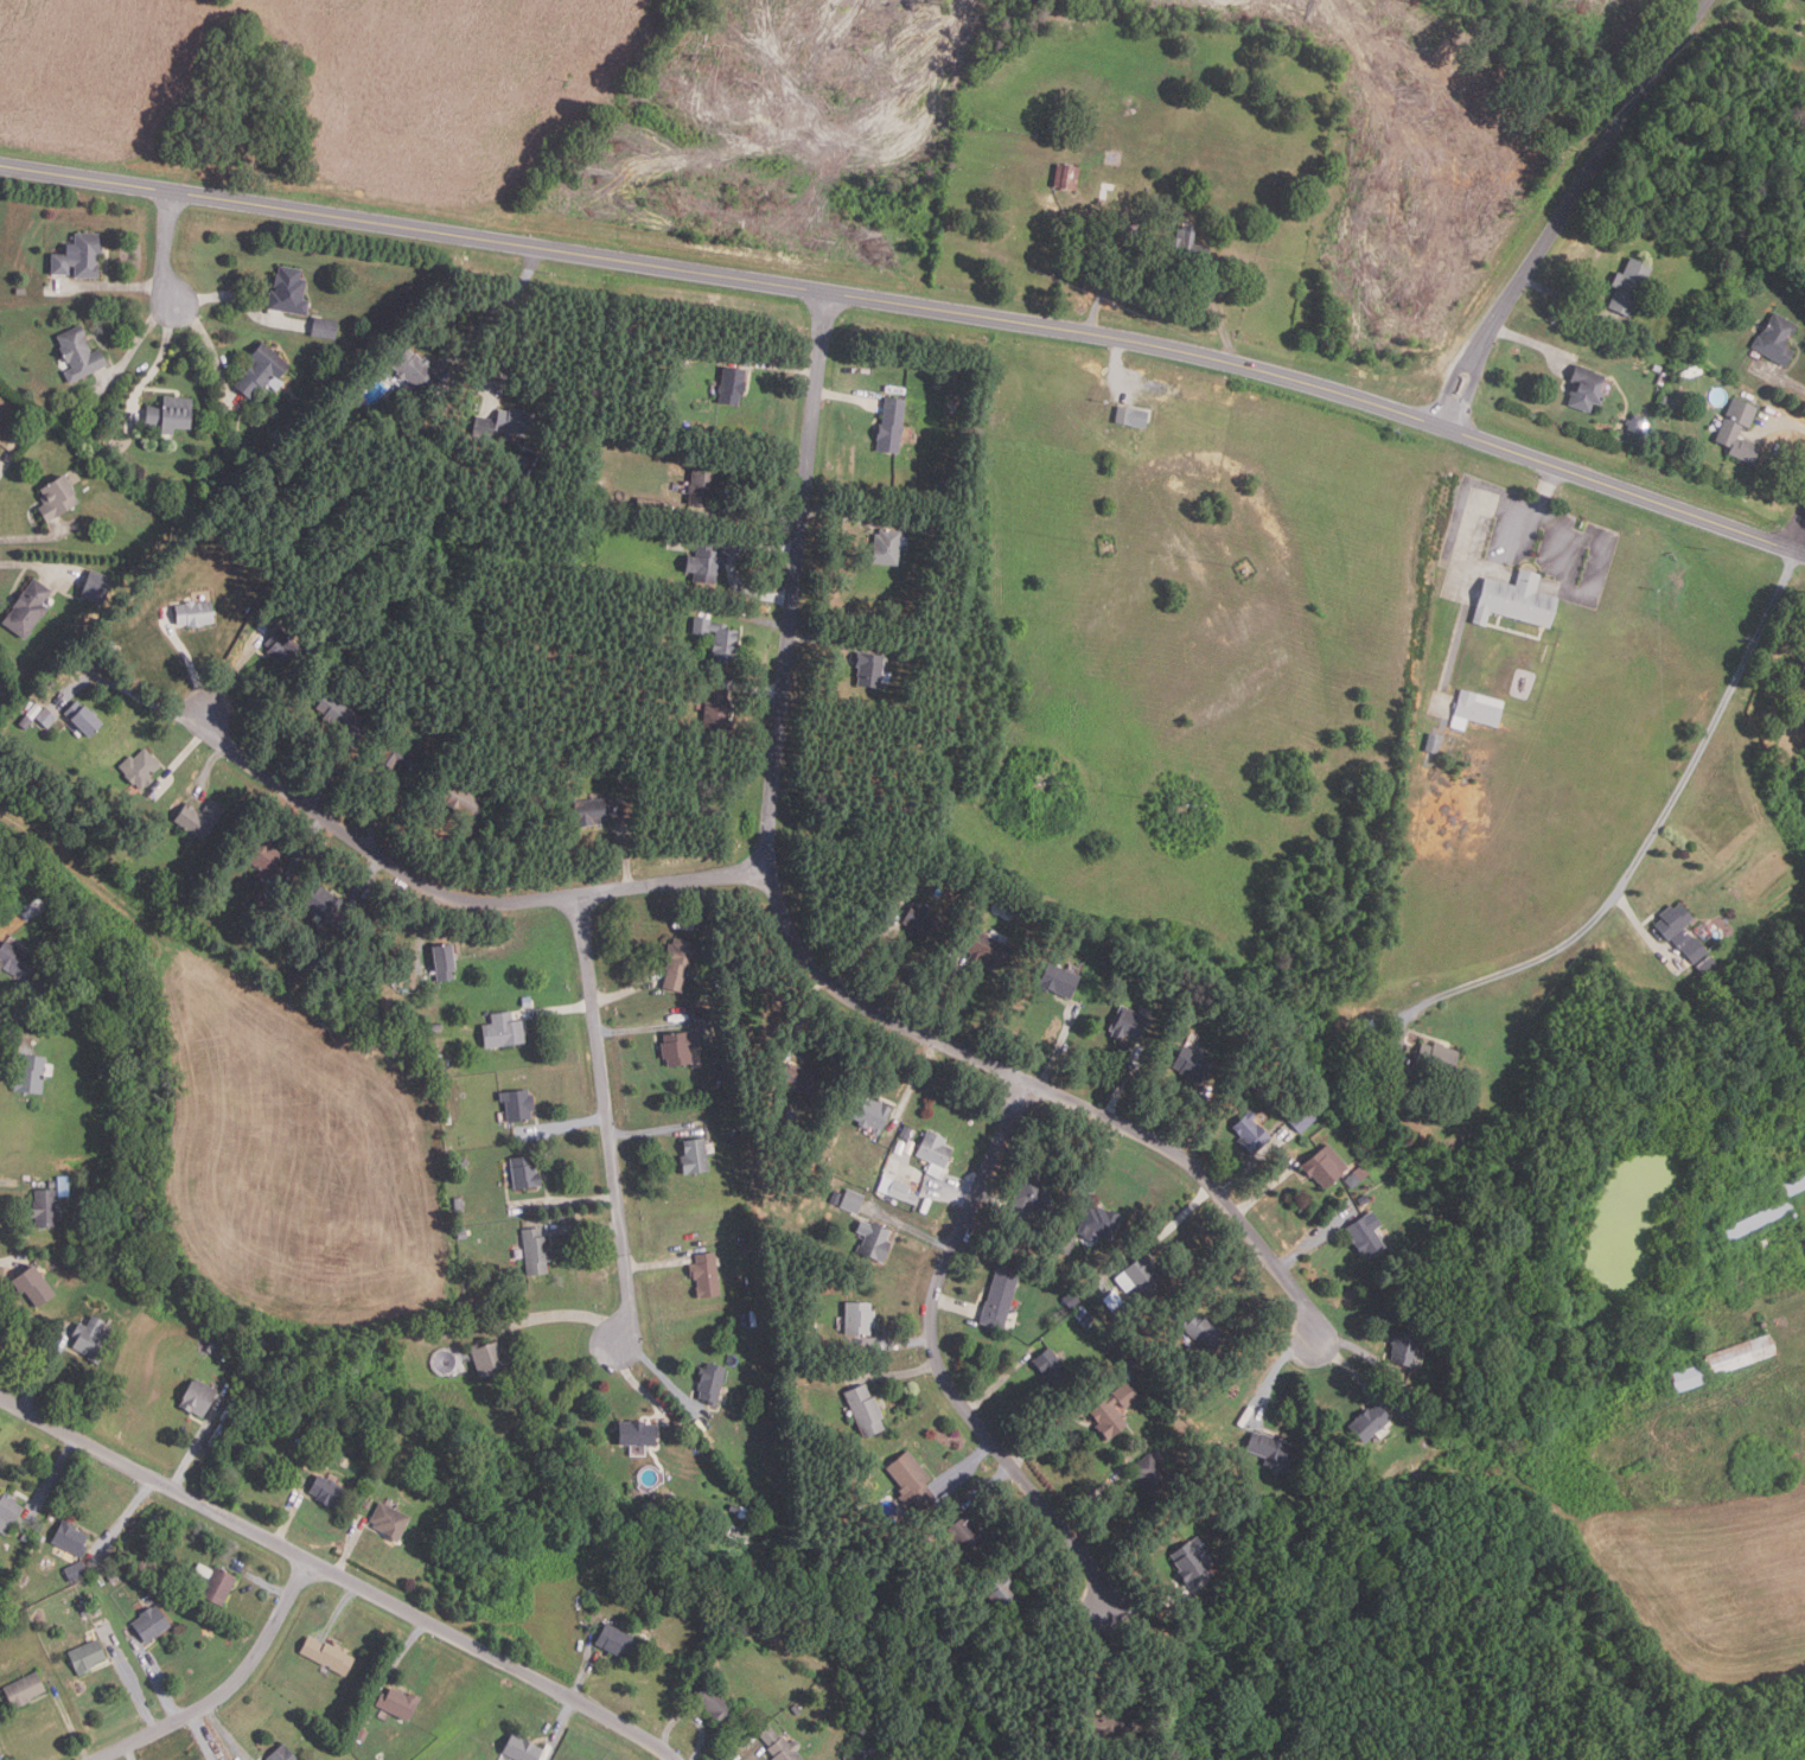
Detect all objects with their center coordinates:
building: (1114, 158)
building: (1067, 177)
road: (1565, 208)
building: (1116, 235)
road: (166, 247)
building: (1188, 248)
building: (79, 254)
road: (1117, 269)
road: (111, 286)
building: (1631, 287)
building: (289, 289)
building: (21, 291)
road: (240, 301)
road: (914, 305)
building: (324, 326)
road: (476, 329)
building: (1778, 339)
road: (134, 346)
road: (210, 347)
building: (81, 353)
building: (681, 353)
road: (159, 362)
building: (262, 369)
building: (421, 376)
building: (734, 383)
road: (1117, 383)
building: (1588, 388)
building: (171, 413)
building: (1133, 415)
building: (517, 420)
building: (893, 422)
building: (1637, 423)
building: (2, 426)
building: (483, 427)
building: (1740, 431)
road: (1, 467)
building: (703, 485)
road: (1544, 487)
building: (599, 489)
building: (57, 496)
building: (650, 504)
road: (1798, 531)
road: (40, 540)
building: (887, 546)
building: (706, 556)
road: (40, 566)
building: (98, 586)
building: (1518, 599)
building: (28, 607)
building: (196, 612)
building: (720, 637)
building: (338, 638)
building: (282, 649)
building: (872, 668)
road: (138, 695)
building: (43, 699)
building: (1478, 709)
building: (340, 714)
building: (716, 714)
building: (47, 716)
building: (84, 718)
building: (26, 721)
building: (1434, 742)
building: (398, 754)
building: (140, 769)
building: (464, 798)
building: (592, 811)
building: (202, 820)
road: (1651, 833)
building: (267, 859)
road: (460, 900)
building: (325, 901)
building: (1675, 919)
building: (921, 922)
building: (1684, 938)
road: (801, 946)
building: (983, 948)
building: (1696, 949)
building: (13, 959)
building: (445, 961)
building: (680, 962)
building: (1708, 964)
building: (1714, 973)
building: (1060, 980)
building: (1727, 980)
road: (28, 1003)
building: (529, 1003)
building: (706, 1016)
building: (1129, 1024)
building: (438, 1026)
building: (1371, 1027)
building: (504, 1029)
road: (9, 1046)
building: (680, 1046)
building: (1436, 1061)
building: (1192, 1063)
building: (32, 1075)
building: (801, 1079)
building: (518, 1104)
building: (873, 1112)
building: (448, 1116)
road: (607, 1117)
building: (1302, 1117)
building: (907, 1131)
building: (1252, 1133)
building: (734, 1134)
building: (907, 1146)
building: (936, 1150)
building: (695, 1156)
building: (461, 1163)
building: (1327, 1166)
building: (525, 1172)
building: (1358, 1175)
road: (11, 1180)
building: (52, 1182)
building: (1792, 1184)
building: (898, 1190)
building: (836, 1197)
building: (1031, 1198)
building: (1363, 1198)
building: (853, 1200)
building: (459, 1203)
building: (44, 1206)
building: (1755, 1219)
building: (1353, 1222)
building: (1101, 1223)
building: (1367, 1233)
building: (875, 1239)
building: (746, 1246)
building: (536, 1250)
road: (11, 1261)
building: (1144, 1273)
building: (707, 1275)
building: (36, 1286)
building: (1001, 1296)
road: (562, 1314)
building: (860, 1318)
building: (1086, 1319)
building: (401, 1325)
building: (444, 1331)
building: (1204, 1333)
building: (93, 1339)
building: (211, 1346)
building: (1405, 1346)
building: (1737, 1354)
building: (490, 1359)
road: (939, 1360)
building: (1134, 1364)
building: (1443, 1365)
building: (1053, 1366)
road: (43, 1370)
building: (1685, 1377)
building: (712, 1382)
building: (1128, 1394)
building: (198, 1397)
building: (866, 1410)
building: (1410, 1411)
road: (1064, 1417)
building: (1109, 1417)
building: (1372, 1422)
building: (638, 1433)
road: (197, 1447)
building: (1273, 1448)
building: (1152, 1472)
road: (52, 1480)
building: (301, 1480)
building: (913, 1480)
building: (330, 1492)
building: (368, 1503)
building: (8, 1511)
road: (128, 1513)
road: (287, 1517)
building: (390, 1520)
building: (963, 1532)
building: (25, 1537)
building: (70, 1542)
road: (350, 1547)
building: (1192, 1560)
building: (77, 1571)
road: (339, 1574)
building: (114, 1576)
road: (261, 1581)
building: (219, 1587)
building: (1003, 1595)
building: (95, 1608)
road: (340, 1608)
building: (84, 1613)
building: (152, 1624)
building: (616, 1641)
building: (722, 1645)
road: (402, 1650)
building: (963, 1650)
building: (329, 1656)
building: (88, 1658)
road: (583, 1670)
road: (154, 1676)
road: (129, 1679)
road: (229, 1688)
building: (24, 1690)
building: (400, 1703)
building: (714, 1704)
building: (797, 1709)
road: (689, 1717)
road: (69, 1721)
building: (1120, 1721)
road: (560, 1728)
road: (223, 1733)
building: (362, 1734)
road: (205, 1736)
building: (780, 1746)
building: (523, 1749)
road: (129, 1752)
building: (282, 1753)
road: (752, 1755)
building: (855, 1755)
road: (0, 1758)

